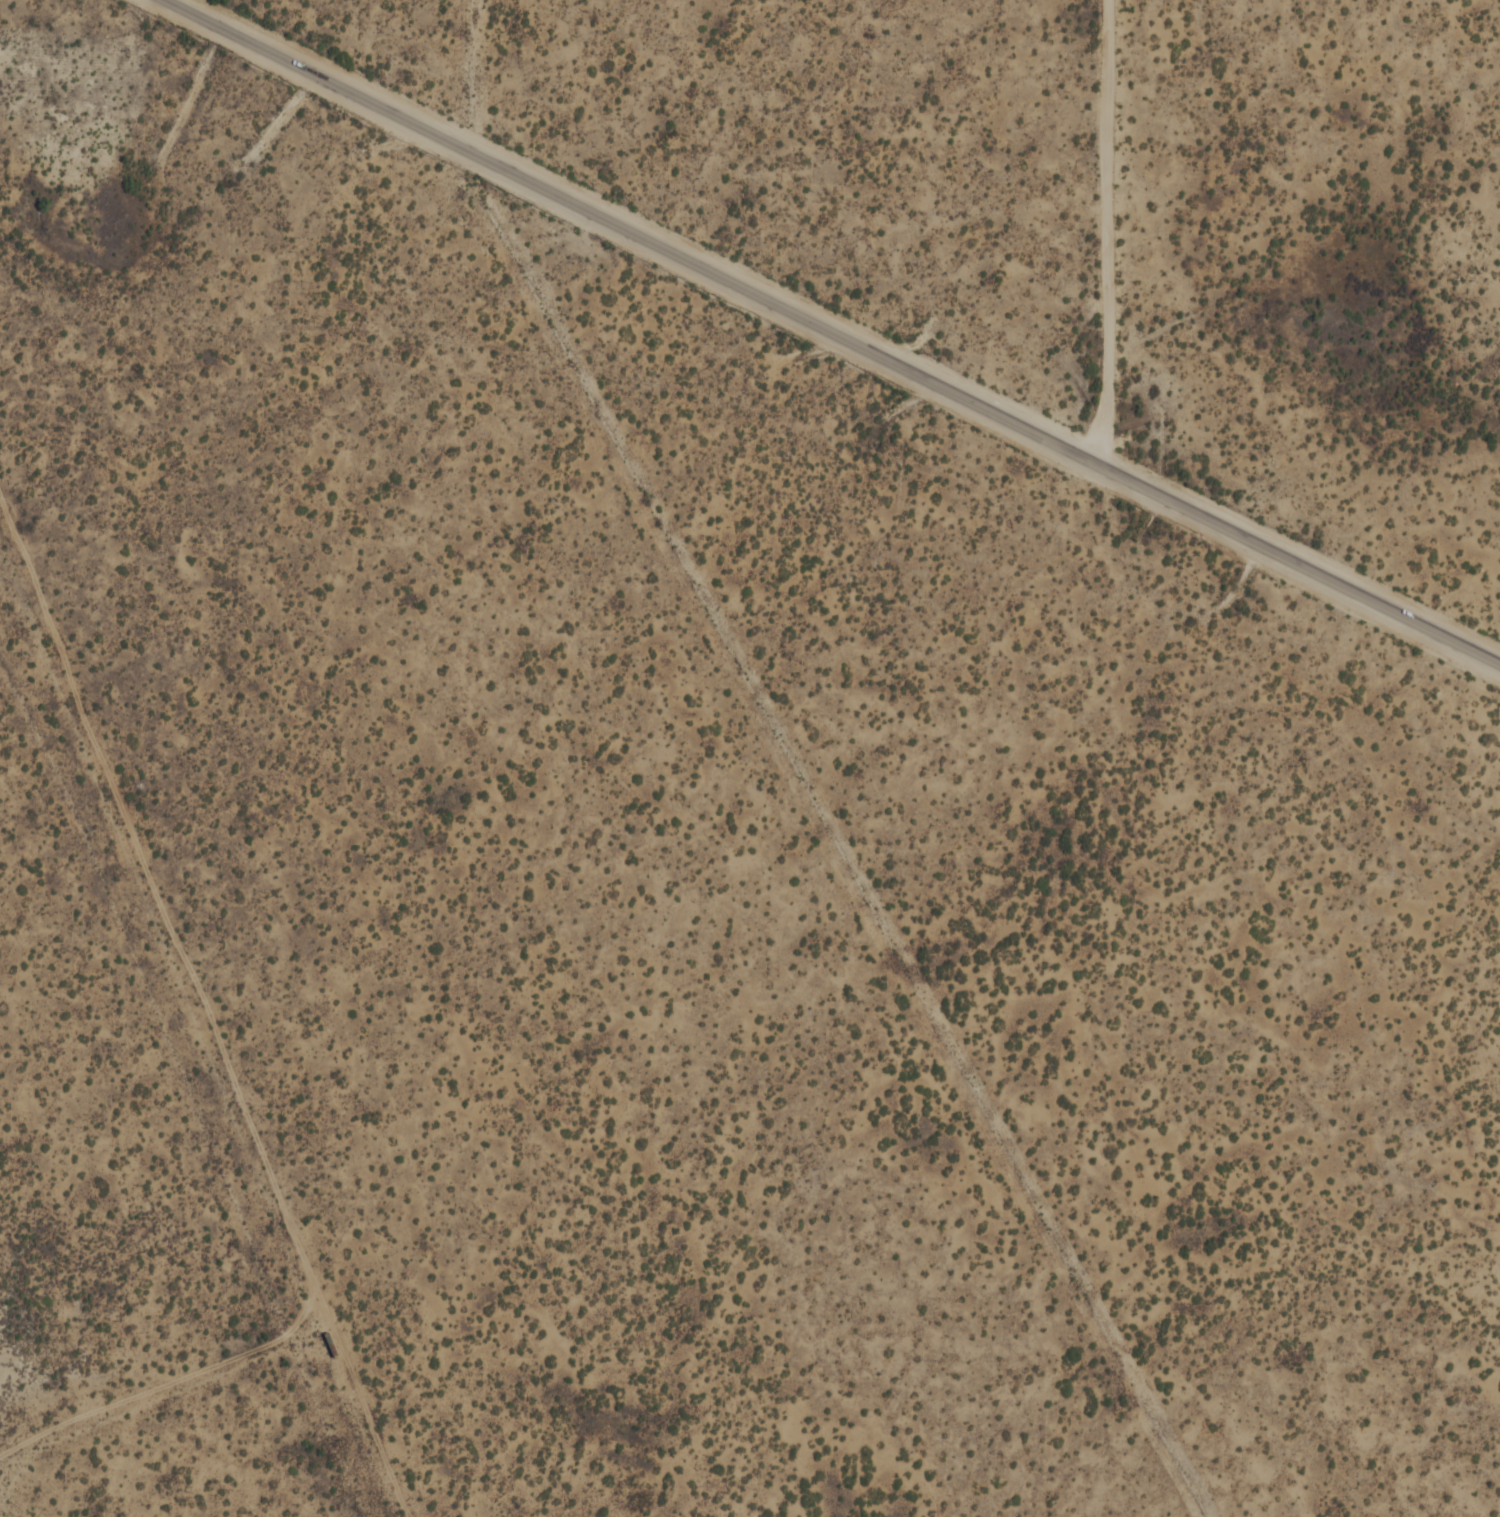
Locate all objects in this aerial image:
road: (1108, 232)
road: (833, 333)
road: (160, 368)
road: (207, 1003)
road: (178, 1381)

